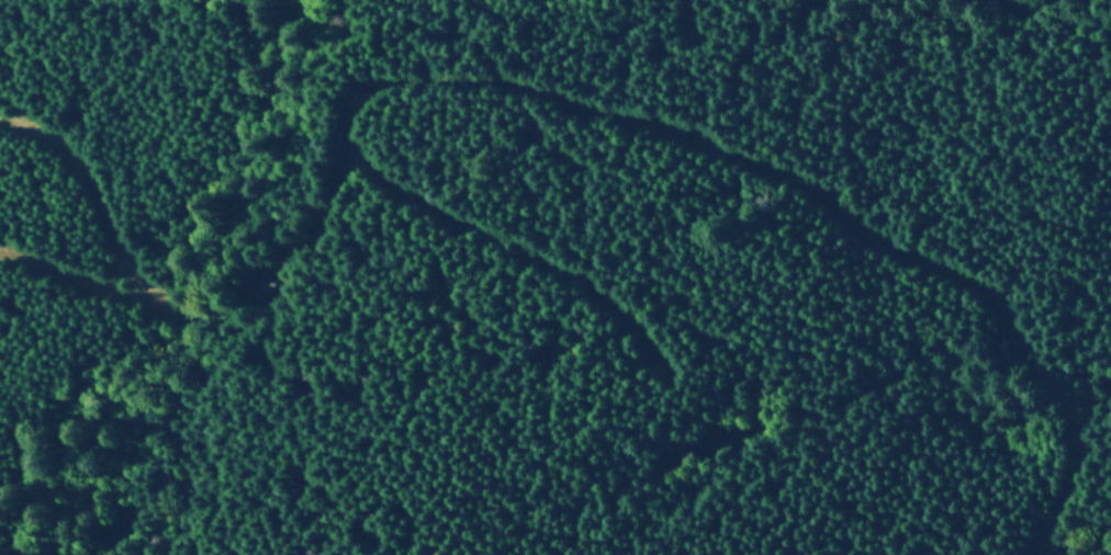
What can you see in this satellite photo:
road: (590, 106)
road: (102, 191)
road: (516, 247)

